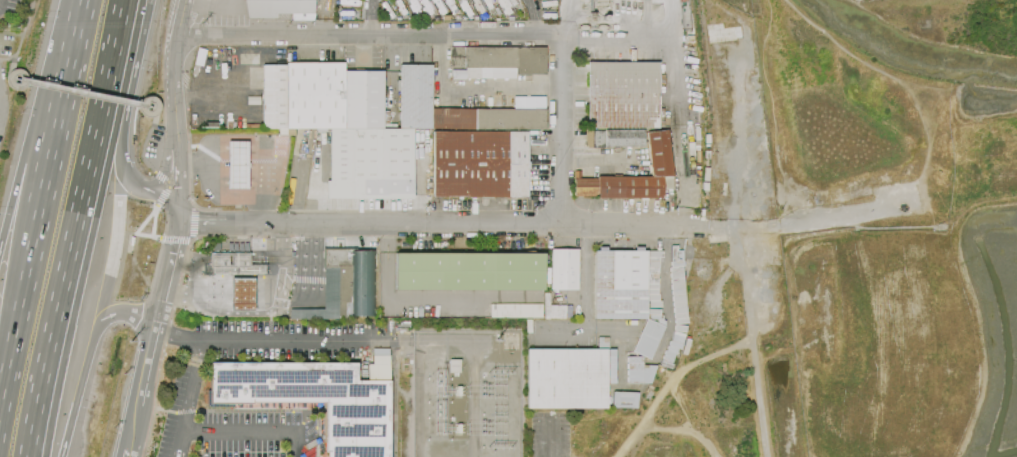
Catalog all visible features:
building: (601, 1)
road: (86, 2)
building: (512, 2)
road: (214, 6)
building: (503, 7)
building: (280, 9)
road: (371, 19)
road: (533, 19)
building: (598, 19)
road: (671, 22)
road: (565, 24)
road: (23, 30)
road: (10, 33)
railway: (703, 35)
road: (462, 40)
road: (362, 52)
road: (7, 58)
building: (496, 62)
road: (173, 63)
road: (391, 75)
road: (132, 78)
road: (12, 82)
road: (677, 82)
road: (479, 87)
road: (84, 91)
road: (230, 92)
building: (621, 95)
road: (154, 99)
road: (230, 102)
road: (64, 104)
road: (35, 120)
road: (181, 121)
building: (370, 122)
road: (734, 135)
building: (623, 138)
building: (593, 139)
road: (142, 147)
road: (168, 152)
building: (658, 152)
road: (205, 163)
building: (479, 164)
building: (237, 165)
road: (190, 167)
road: (179, 168)
road: (160, 177)
road: (264, 177)
road: (420, 178)
road: (294, 182)
road: (167, 184)
road: (151, 186)
road: (142, 189)
road: (162, 195)
road: (221, 196)
road: (206, 209)
traffic signals: (179, 211)
road: (220, 215)
road: (826, 217)
road: (146, 220)
road: (153, 221)
road: (193, 223)
road: (432, 225)
road: (710, 227)
road: (73, 228)
road: (148, 236)
road: (177, 240)
road: (114, 250)
building: (655, 255)
road: (229, 260)
road: (265, 260)
building: (232, 263)
road: (29, 269)
building: (564, 270)
building: (469, 272)
road: (726, 272)
road: (190, 276)
road: (306, 277)
building: (619, 284)
building: (345, 286)
building: (677, 287)
building: (242, 294)
gas station: (242, 294)
road: (423, 299)
road: (587, 308)
building: (515, 311)
building: (554, 311)
road: (116, 313)
road: (257, 313)
road: (171, 324)
road: (617, 325)
road: (152, 334)
road: (171, 335)
road: (296, 338)
building: (647, 339)
road: (751, 341)
road: (378, 348)
road: (7, 370)
building: (637, 371)
building: (568, 378)
road: (671, 382)
power substation: (466, 394)
building: (318, 397)
road: (76, 398)
road: (184, 398)
parking lot: (182, 400)
building: (623, 400)
road: (164, 410)
road: (185, 412)
road: (254, 412)
road: (316, 427)
road: (252, 428)
road: (298, 430)
road: (148, 432)
road: (304, 433)
road: (548, 435)

